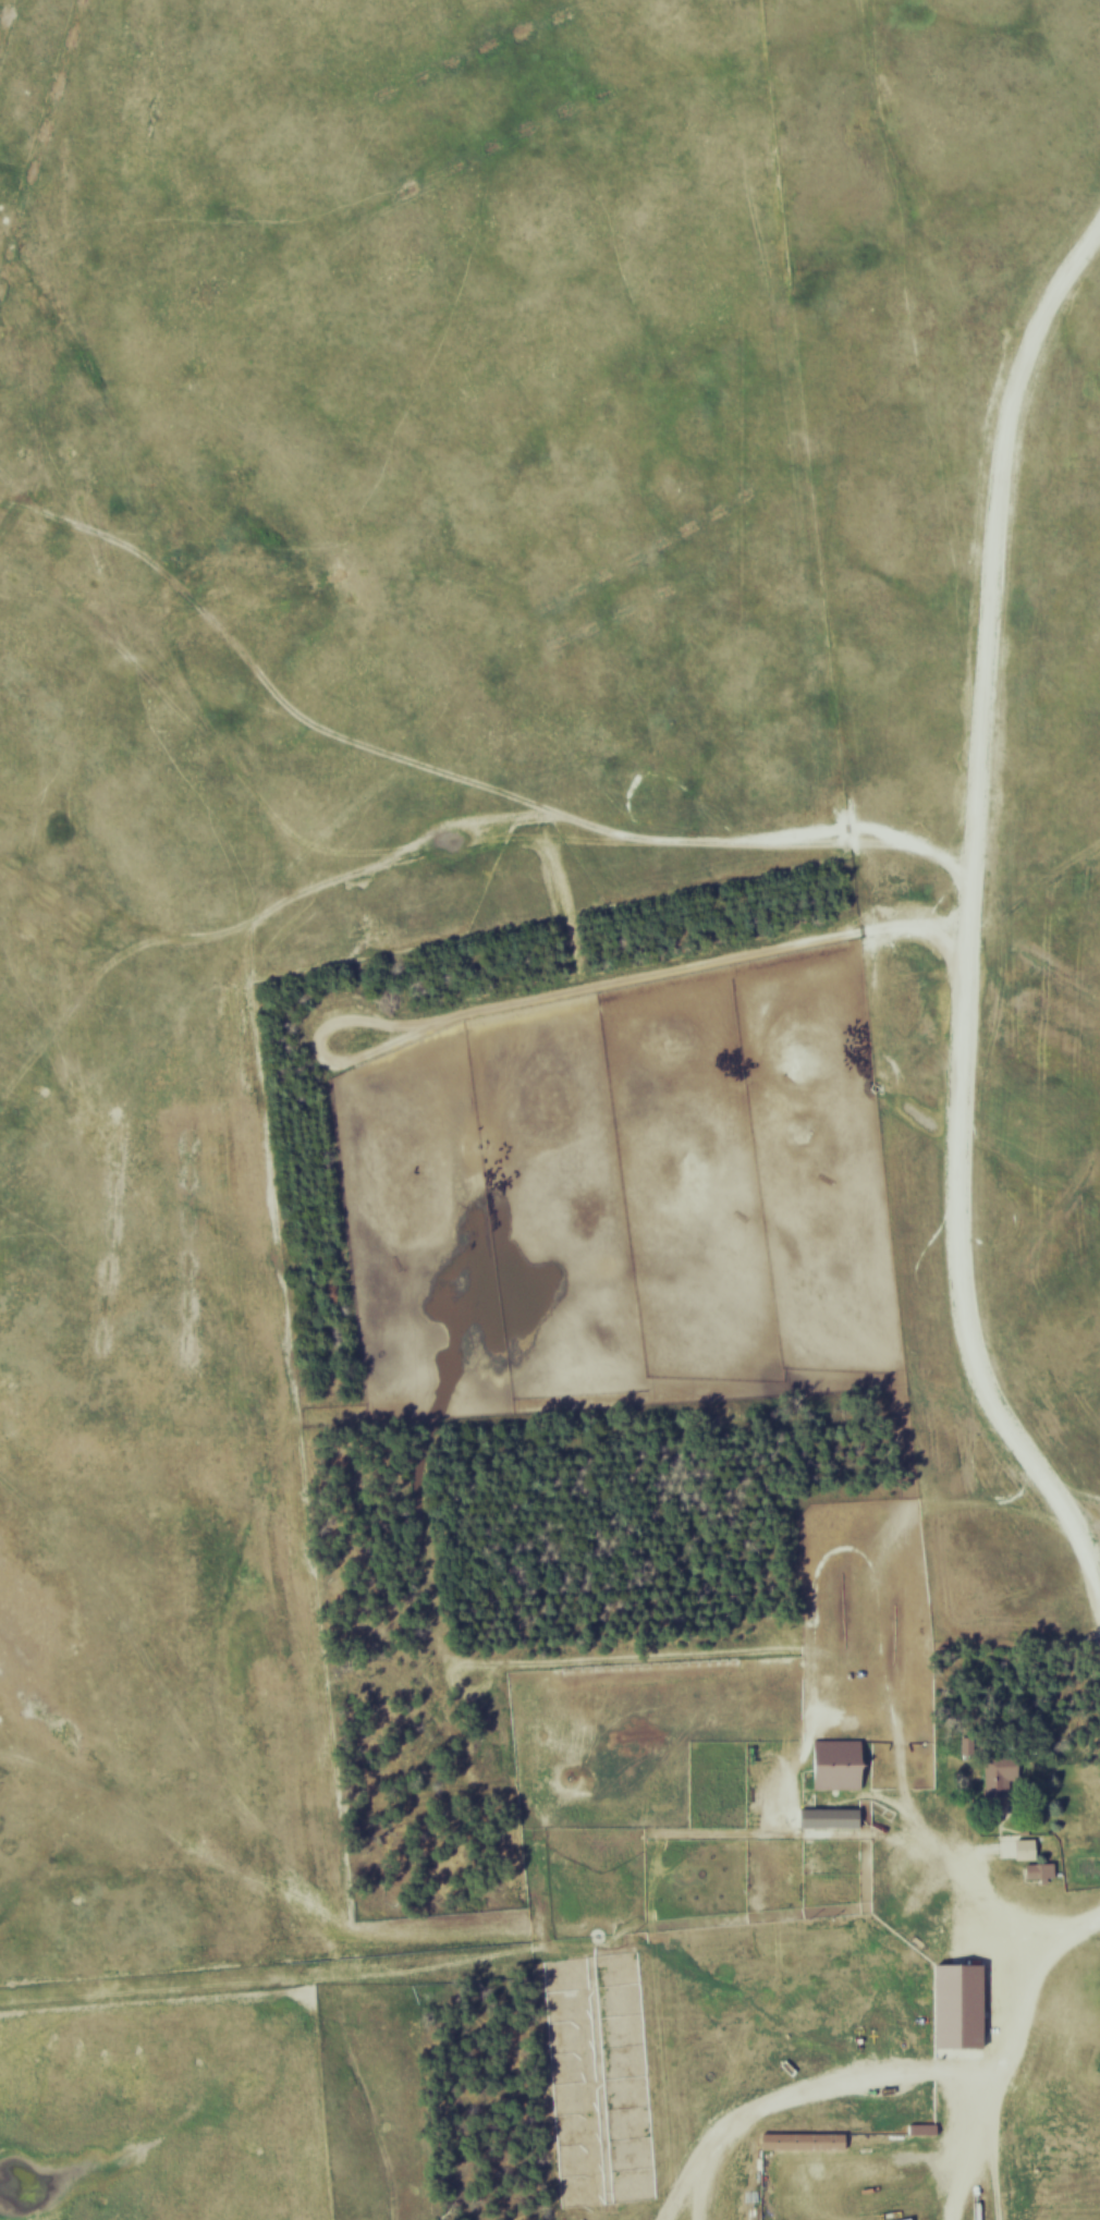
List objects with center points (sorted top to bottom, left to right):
road: (978, 883)
road: (1068, 1540)
building: (845, 1764)
building: (1003, 1778)
building: (1032, 1849)
road: (994, 1920)
building: (966, 2005)
building: (773, 2139)

